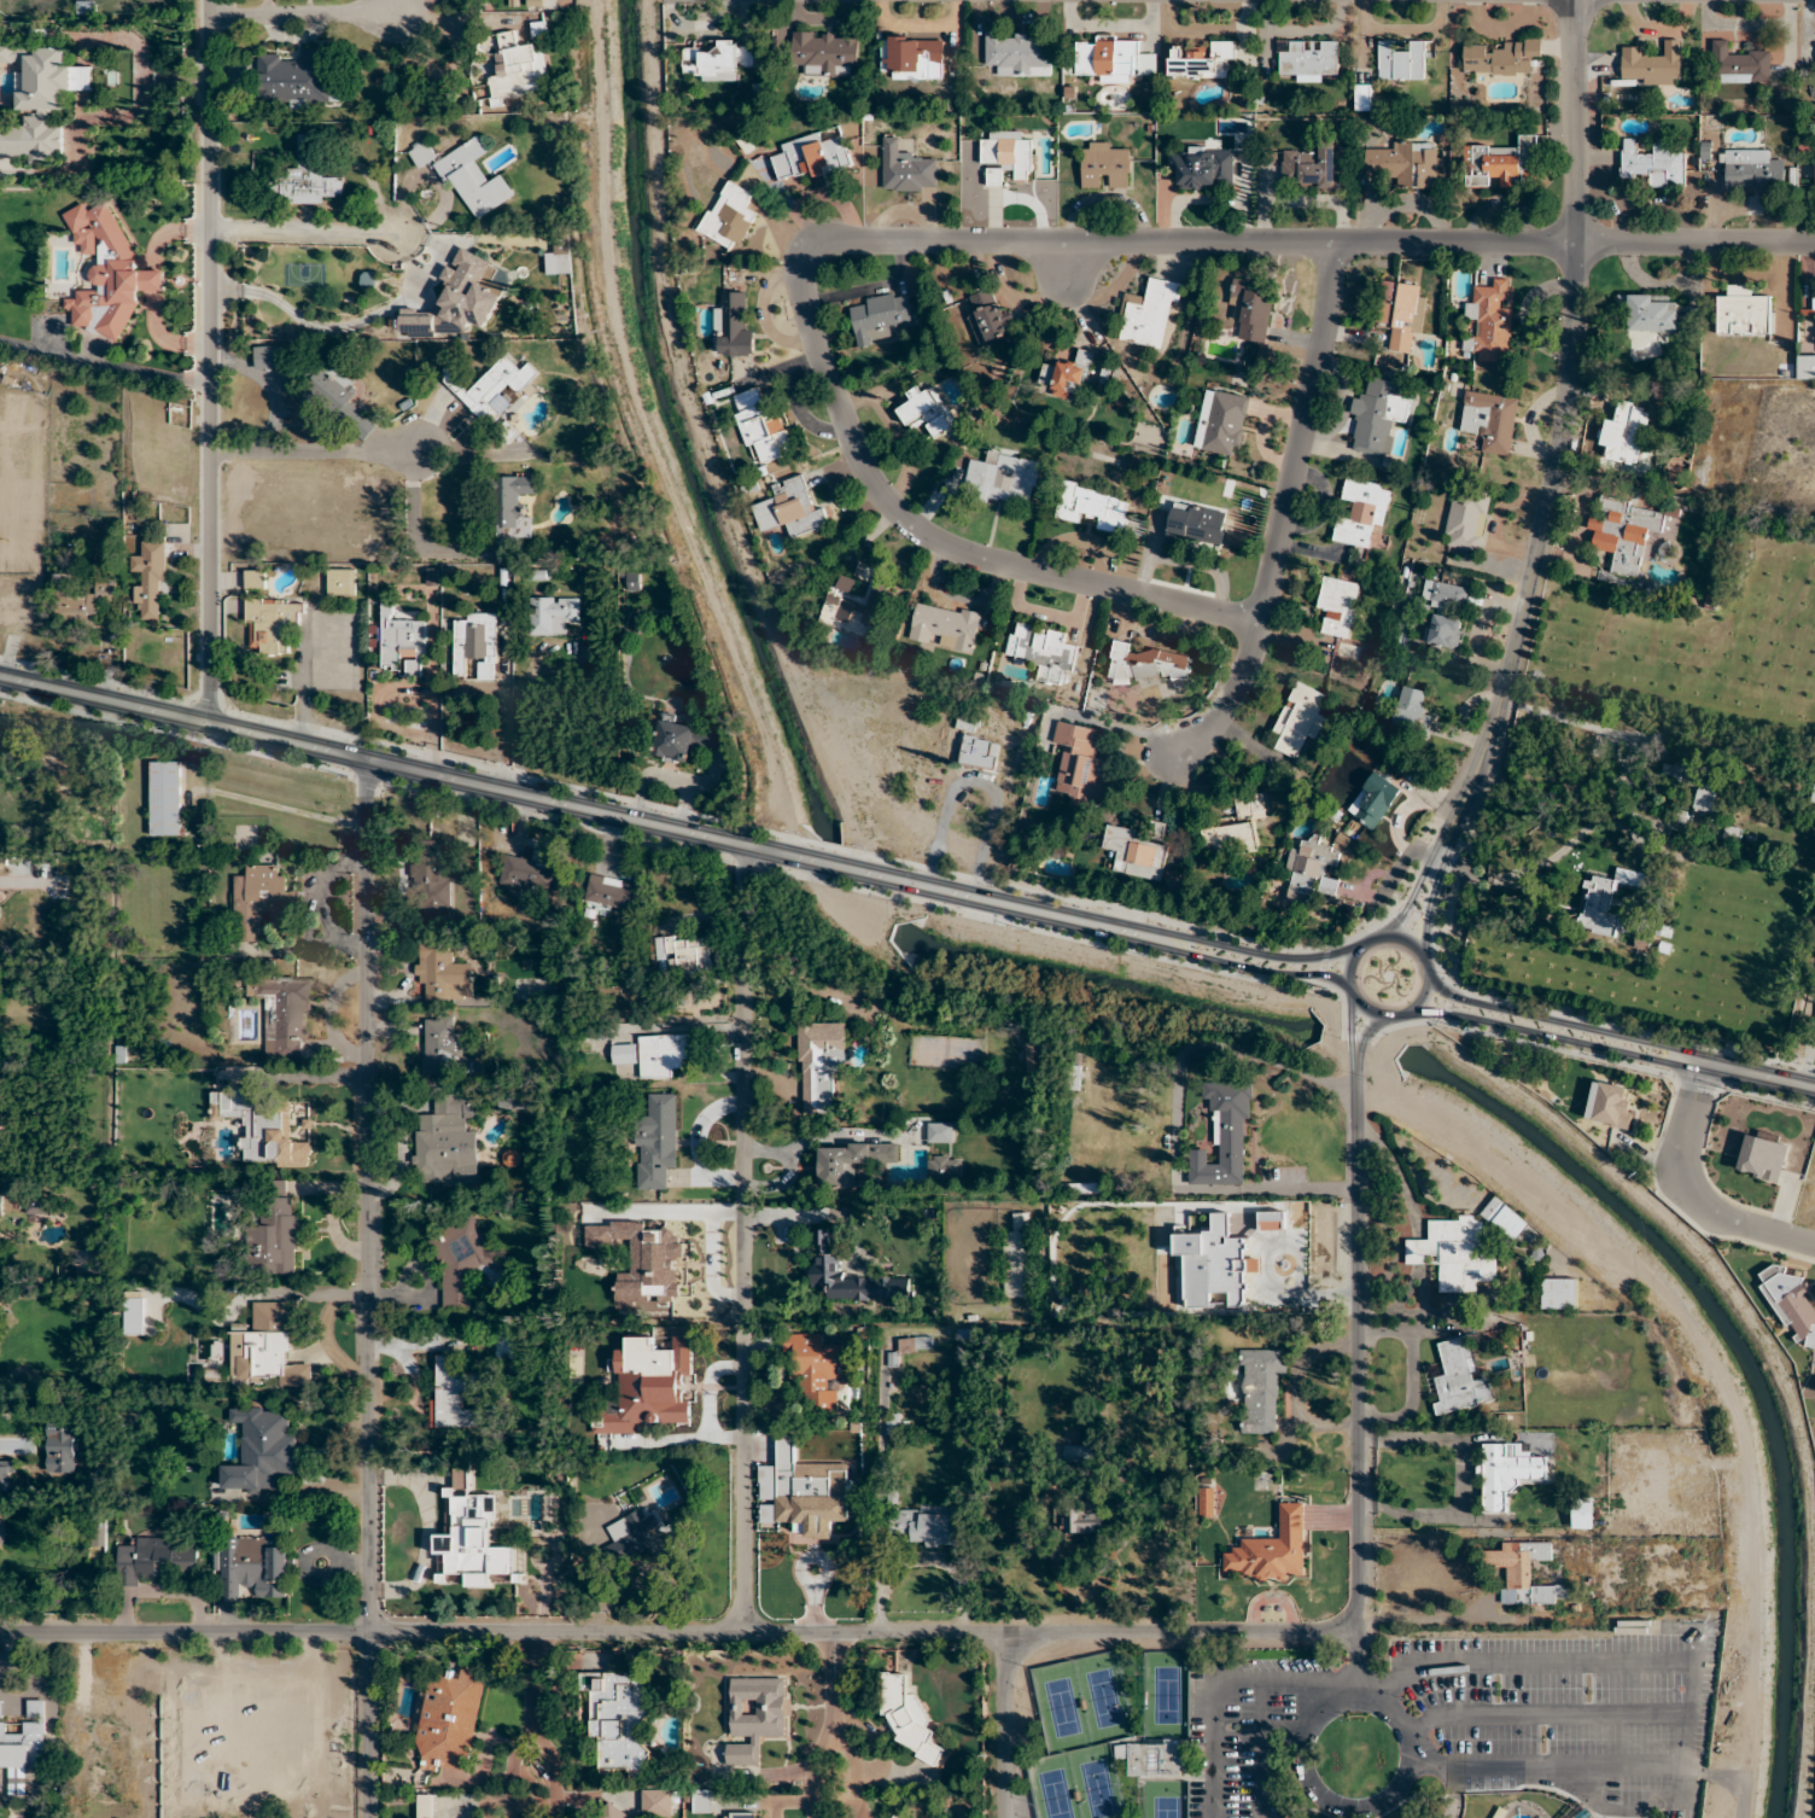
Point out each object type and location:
road: (303, 13)
building: (11, 53)
building: (825, 53)
building: (1020, 54)
building: (912, 57)
building: (1502, 58)
building: (1307, 59)
building: (1114, 60)
building: (1202, 60)
building: (722, 62)
building: (1401, 62)
building: (1652, 65)
building: (1739, 65)
building: (518, 70)
building: (292, 78)
building: (1362, 97)
building: (42, 104)
building: (1005, 156)
building: (810, 157)
building: (1500, 163)
building: (1654, 163)
building: (1406, 164)
building: (1105, 165)
building: (1307, 167)
building: (1203, 168)
building: (906, 169)
building: (1752, 169)
building: (466, 175)
building: (307, 177)
building: (729, 216)
road: (308, 229)
road: (979, 241)
road: (1067, 263)
road: (432, 266)
building: (106, 274)
building: (465, 296)
building: (1251, 311)
building: (1148, 313)
building: (1401, 313)
building: (1743, 313)
building: (1652, 314)
building: (880, 317)
building: (987, 317)
building: (1490, 319)
building: (731, 324)
road: (322, 326)
road: (1574, 350)
building: (270, 357)
road: (104, 362)
road: (209, 363)
building: (1805, 367)
road: (257, 375)
building: (1068, 377)
building: (333, 383)
building: (489, 386)
building: (927, 413)
building: (1379, 414)
road: (291, 419)
building: (1490, 420)
building: (1222, 423)
building: (761, 425)
building: (506, 433)
building: (1623, 441)
road: (706, 448)
road: (310, 451)
building: (1003, 478)
building: (512, 507)
building: (1092, 507)
building: (789, 508)
road: (1282, 509)
building: (1362, 514)
building: (1466, 520)
building: (1196, 525)
building: (1629, 532)
road: (413, 535)
building: (255, 579)
building: (150, 581)
building: (342, 582)
building: (82, 598)
building: (857, 602)
building: (1340, 606)
building: (551, 613)
building: (1445, 614)
building: (272, 624)
building: (945, 627)
building: (403, 642)
building: (477, 645)
building: (1041, 652)
building: (1148, 664)
building: (1413, 707)
road: (519, 709)
building: (968, 719)
building: (1298, 719)
building: (676, 740)
building: (979, 752)
building: (1081, 763)
road: (1471, 782)
building: (1692, 791)
building: (164, 799)
building: (1375, 800)
road: (585, 811)
building: (1236, 828)
building: (1137, 853)
road: (1399, 864)
building: (526, 874)
building: (1309, 875)
building: (432, 881)
building: (611, 893)
building: (257, 901)
road: (1408, 901)
road: (1428, 908)
building: (1599, 908)
road: (1266, 951)
building: (684, 952)
road: (1349, 961)
road: (1259, 969)
building: (443, 973)
building: (284, 1012)
road: (1560, 1021)
road: (1349, 1024)
road: (1366, 1030)
road: (1548, 1035)
building: (442, 1045)
building: (655, 1055)
building: (1032, 1057)
building: (821, 1065)
road: (1757, 1077)
building: (1609, 1106)
building: (274, 1135)
building: (1224, 1137)
building: (448, 1140)
building: (656, 1142)
building: (1762, 1156)
building: (852, 1161)
building: (944, 1167)
road: (1691, 1193)
building: (1079, 1217)
building: (273, 1233)
road: (745, 1239)
road: (1255, 1246)
building: (1464, 1248)
building: (1019, 1258)
building: (461, 1259)
building: (1206, 1259)
building: (825, 1265)
building: (661, 1270)
road: (368, 1289)
building: (1559, 1293)
building: (1793, 1309)
building: (134, 1313)
road: (1358, 1327)
road: (1412, 1329)
building: (915, 1345)
building: (503, 1346)
building: (267, 1348)
building: (816, 1370)
building: (1459, 1379)
building: (640, 1388)
building: (1260, 1389)
road: (1410, 1394)
building: (455, 1398)
road: (1448, 1440)
building: (24, 1446)
building: (263, 1452)
building: (1078, 1452)
road: (882, 1459)
building: (7, 1474)
building: (1505, 1475)
building: (804, 1487)
building: (1206, 1504)
building: (1591, 1513)
building: (1084, 1517)
road: (1430, 1517)
building: (920, 1523)
building: (98, 1531)
building: (642, 1534)
building: (2, 1536)
building: (471, 1537)
building: (1271, 1550)
building: (159, 1558)
road: (945, 1566)
building: (255, 1567)
building: (1525, 1575)
road: (1424, 1620)
road: (687, 1627)
road: (1354, 1653)
road: (831, 1680)
road: (1220, 1682)
building: (34, 1707)
road: (1681, 1715)
building: (754, 1717)
building: (907, 1718)
building: (617, 1719)
building: (449, 1720)
road: (1008, 1724)
park: (1377, 1724)
building: (107, 1730)
road: (1274, 1730)
building: (267, 1738)
building: (22, 1749)
building: (1151, 1758)
road: (856, 1772)
road: (809, 1773)
building: (294, 1788)
building: (702, 1801)
building: (659, 1804)
building: (425, 1806)
building: (612, 1812)
building: (740, 1816)
building: (893, 1817)

